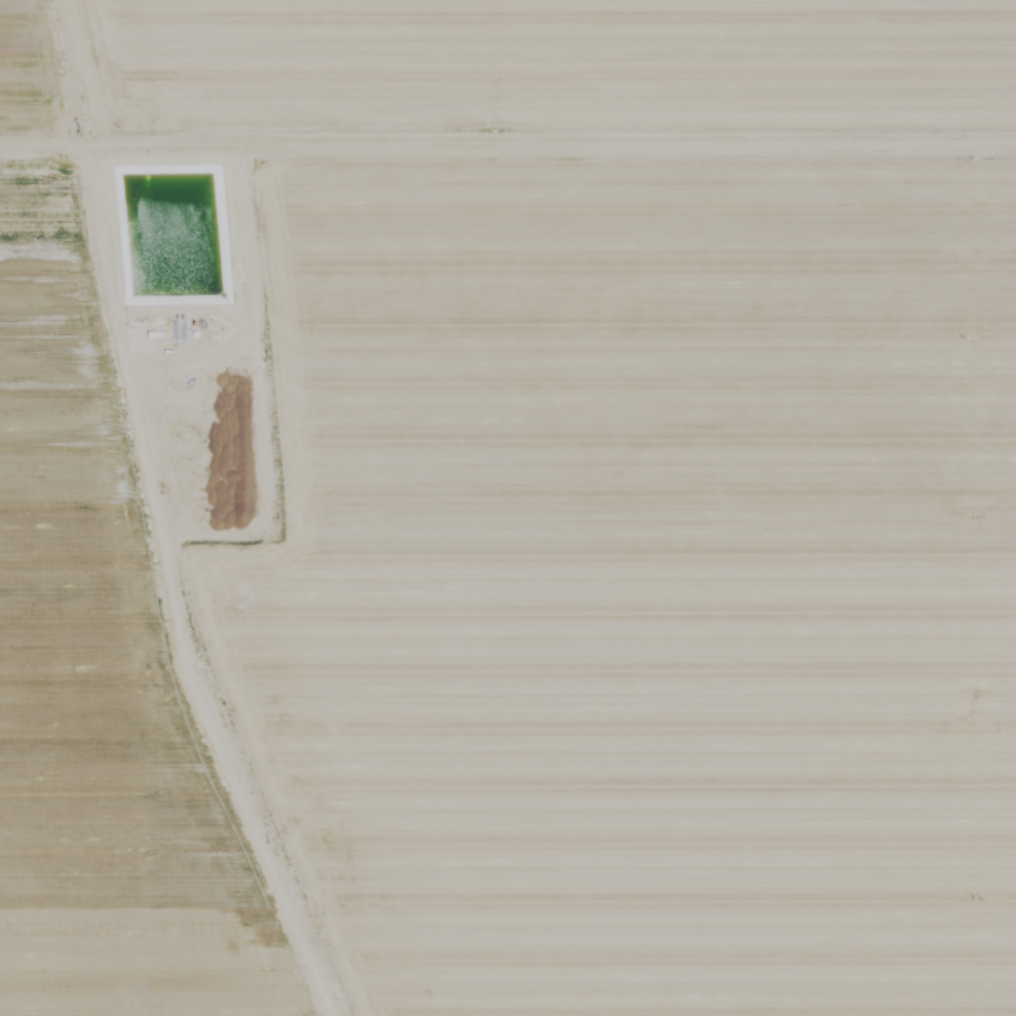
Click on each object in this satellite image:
road: (48, 131)
road: (246, 226)
crop: (508, 508)
road: (149, 523)

